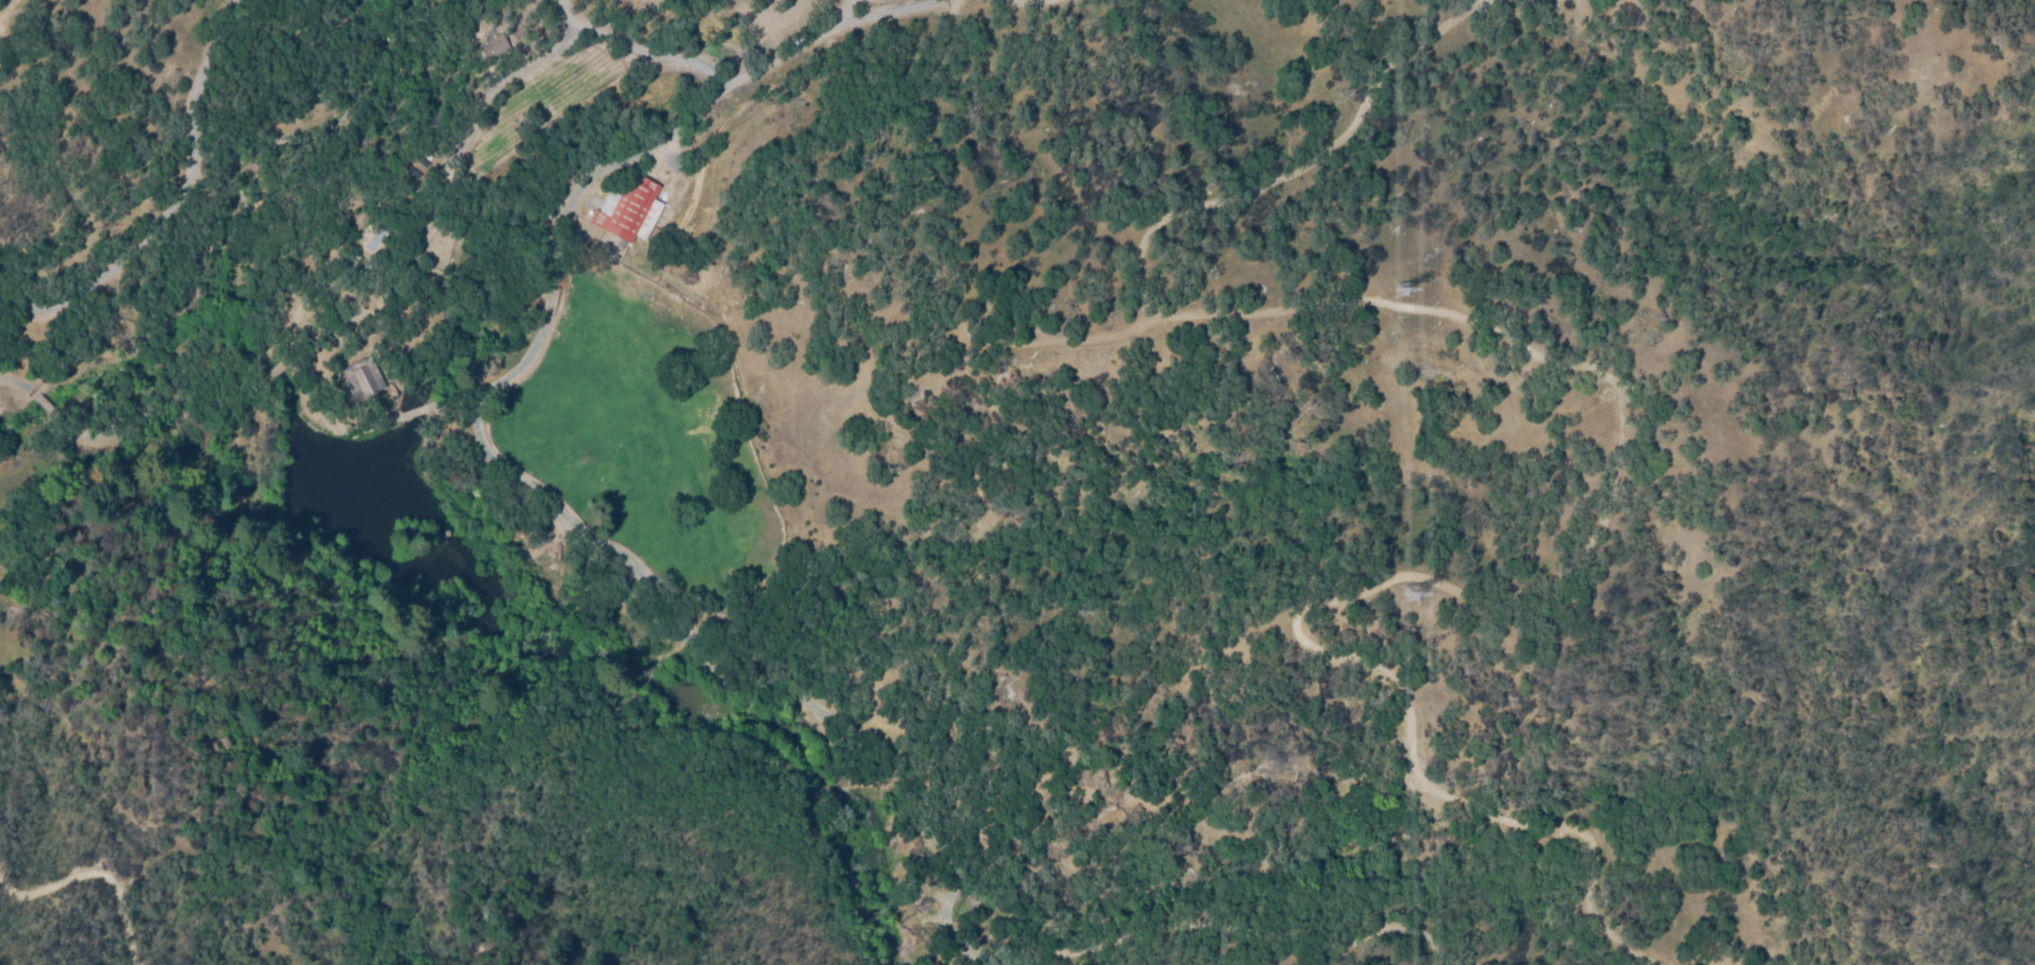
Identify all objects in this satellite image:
building: (495, 48)
road: (640, 53)
road: (177, 200)
building: (630, 209)
power tower: (1403, 291)
building: (274, 371)
building: (359, 380)
power tower: (1408, 596)

